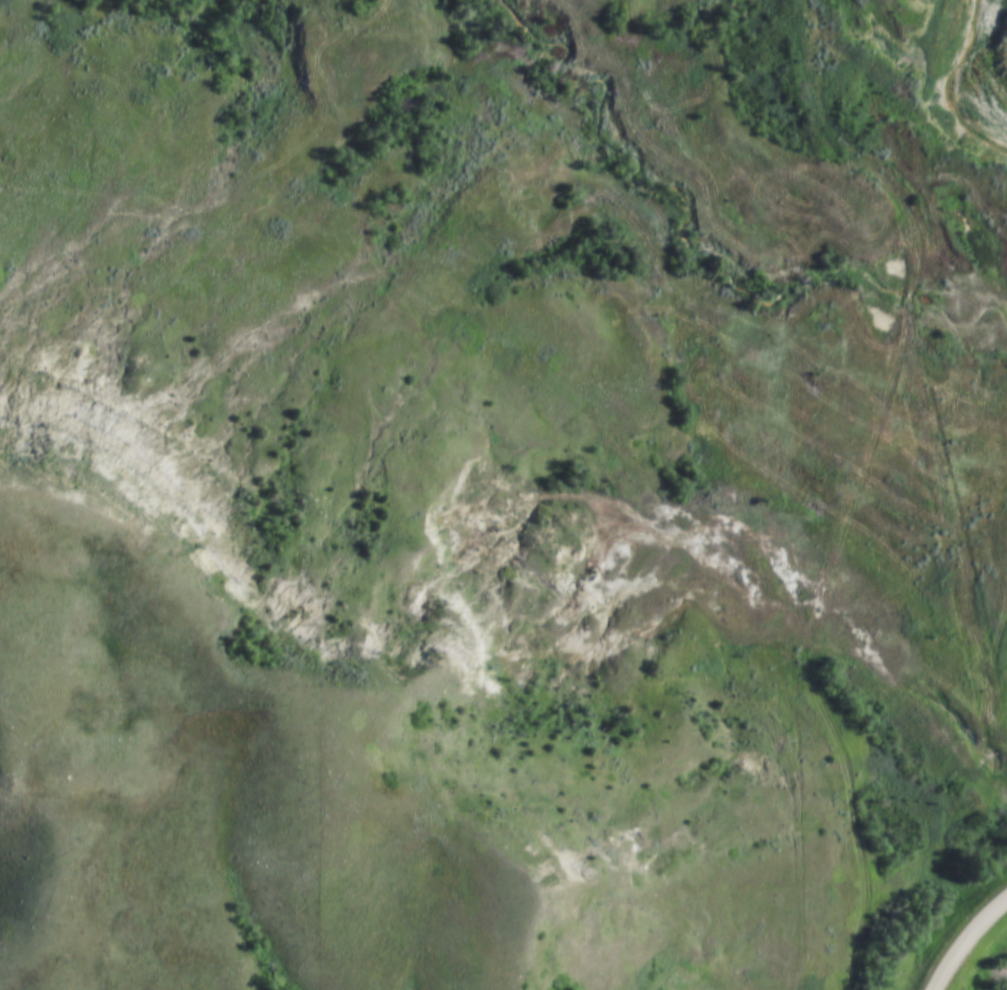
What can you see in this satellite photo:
road: (966, 939)

